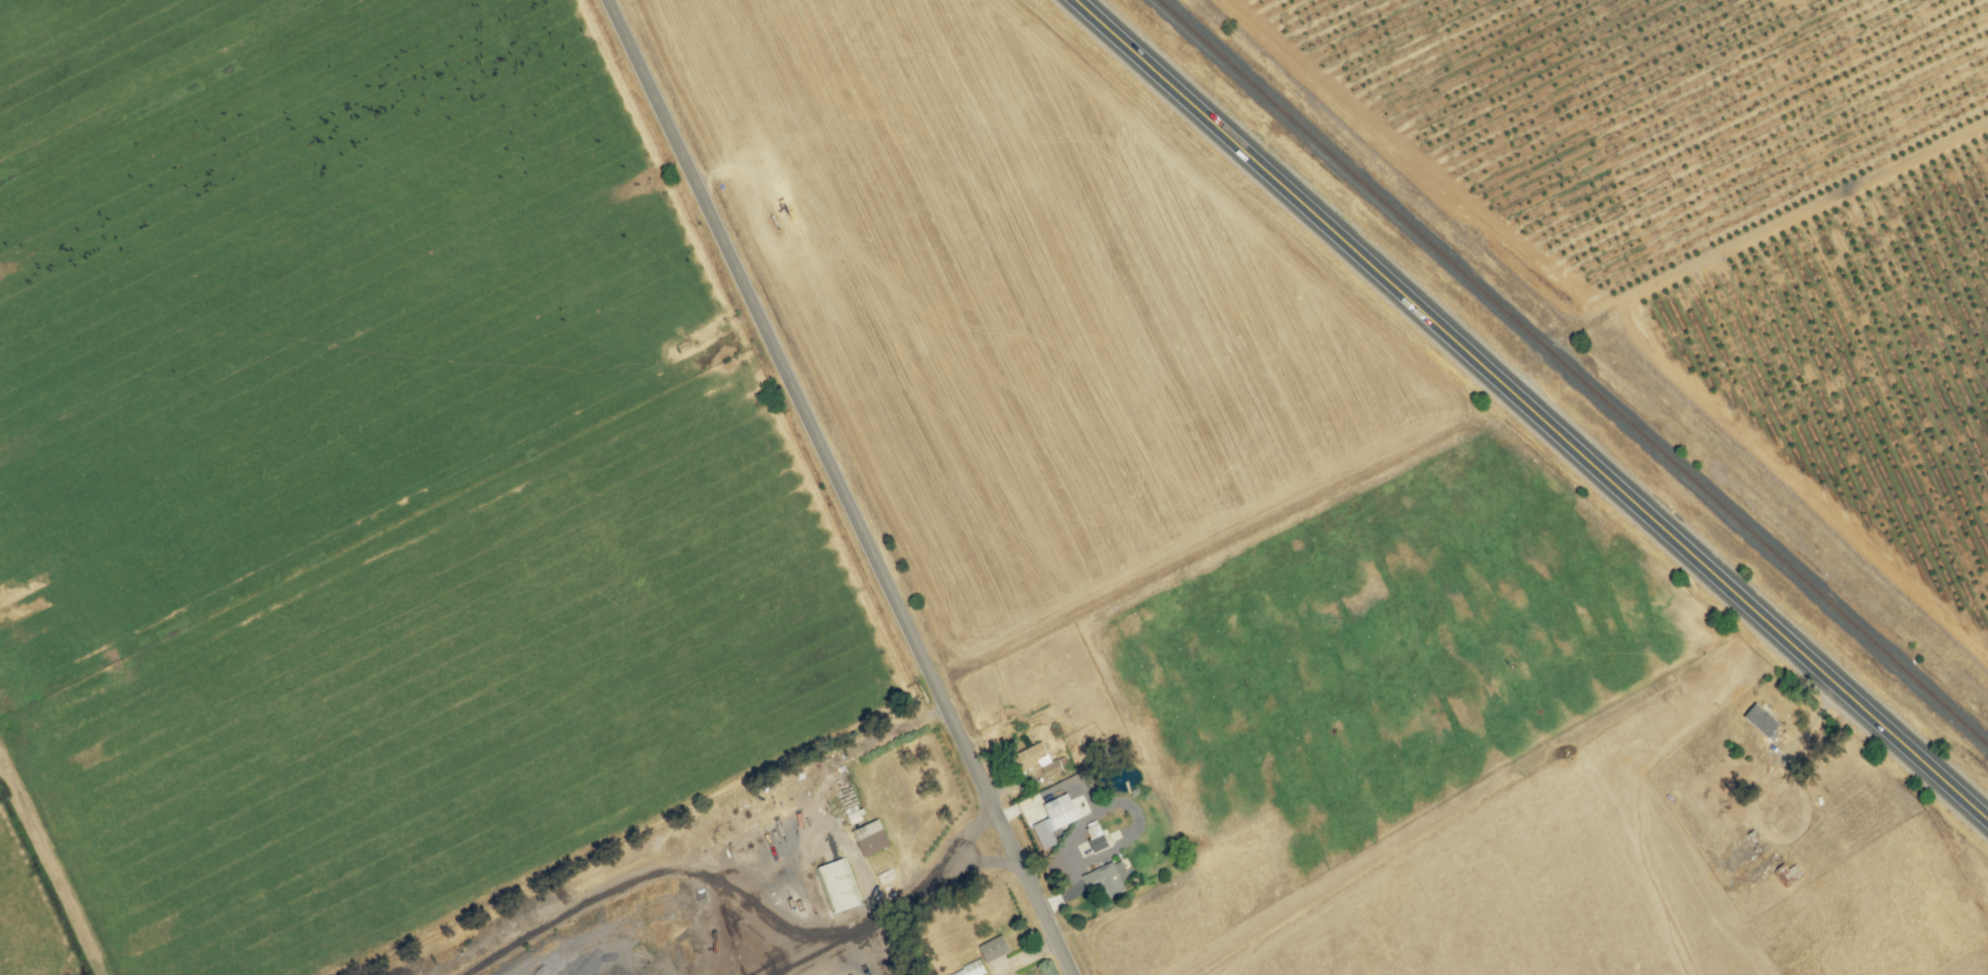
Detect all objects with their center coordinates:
road: (1738, 241)
railway: (1572, 373)
road: (1530, 410)
road: (839, 487)
building: (1762, 721)
building: (1040, 761)
building: (1055, 820)
building: (872, 838)
building: (1097, 843)
building: (1107, 878)
road: (915, 883)
building: (993, 949)
building: (969, 970)

